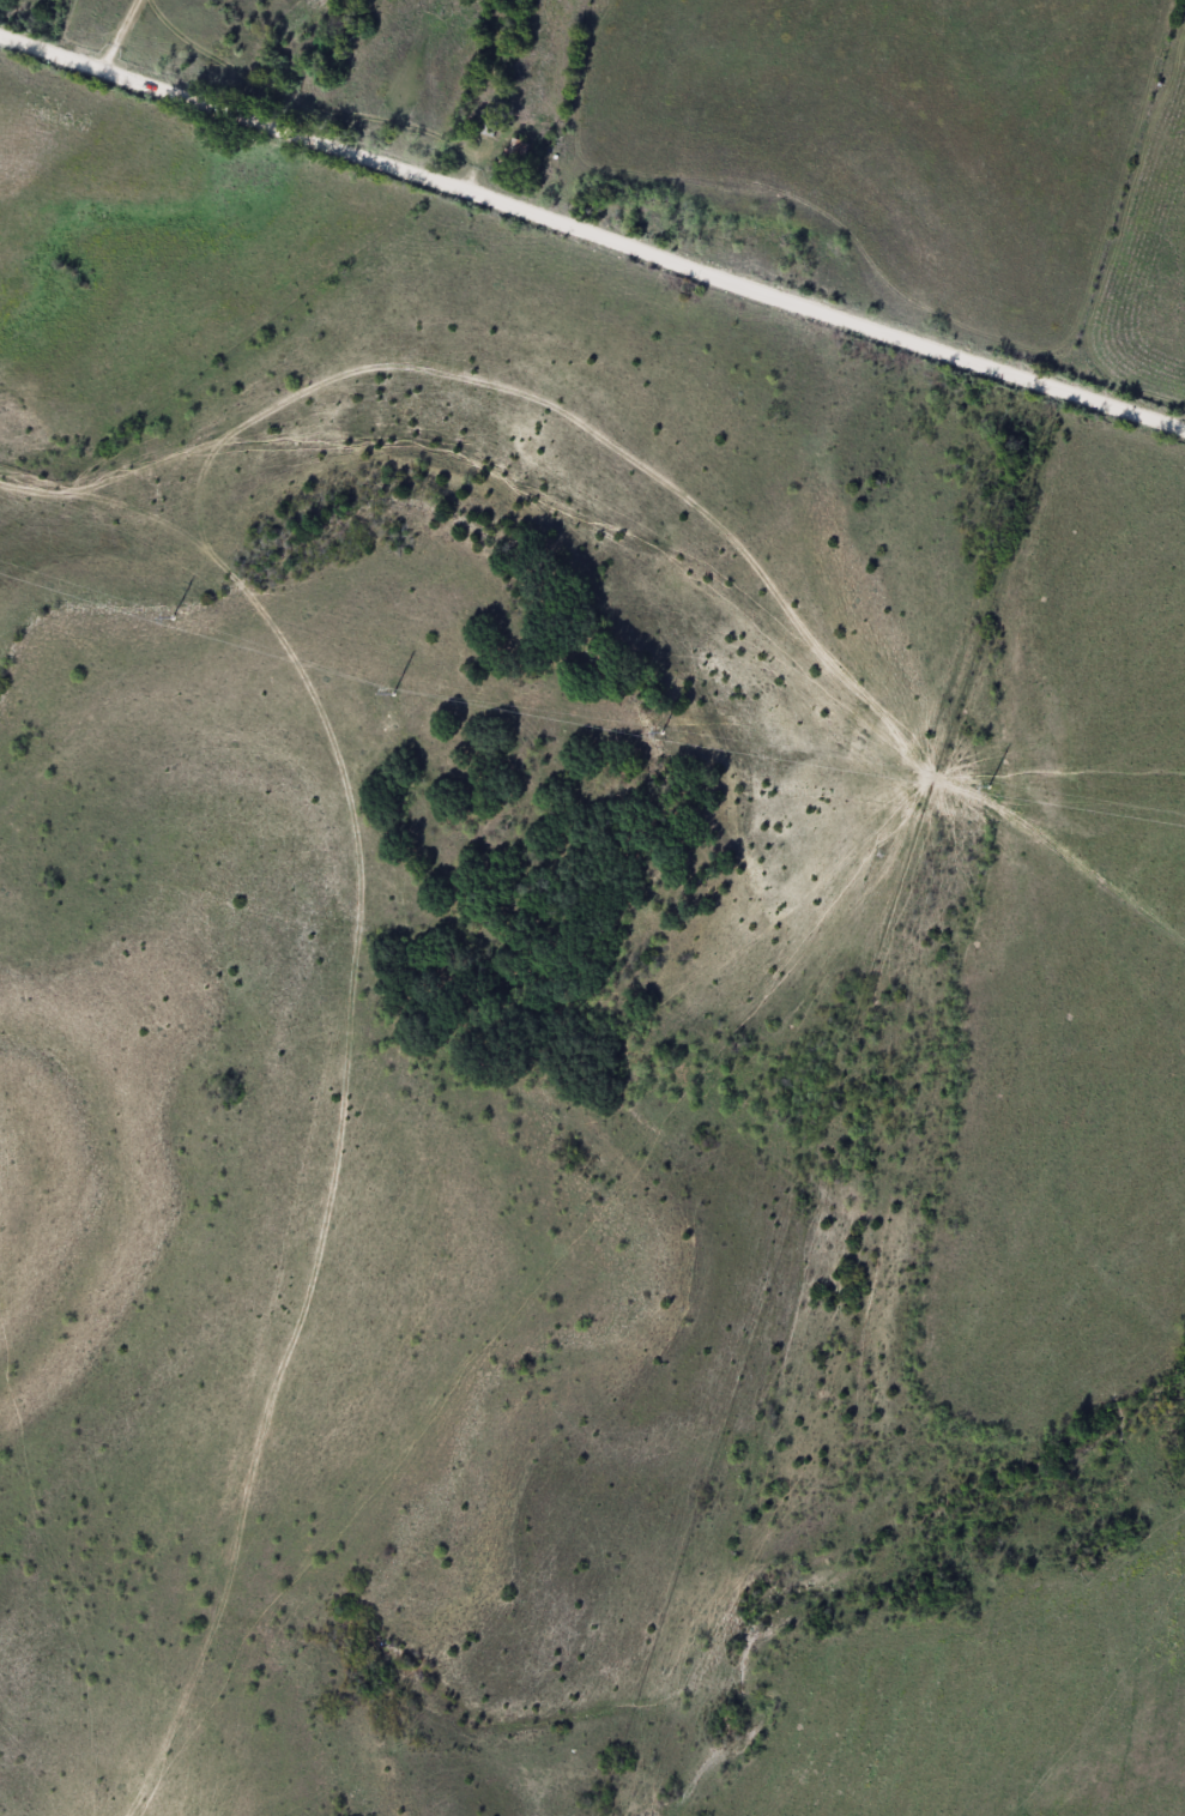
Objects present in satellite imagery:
road: (114, 34)
building: (489, 123)
building: (518, 150)
road: (592, 231)
power tower: (173, 617)
power tower: (393, 693)
power tower: (663, 731)
power tower: (988, 785)

